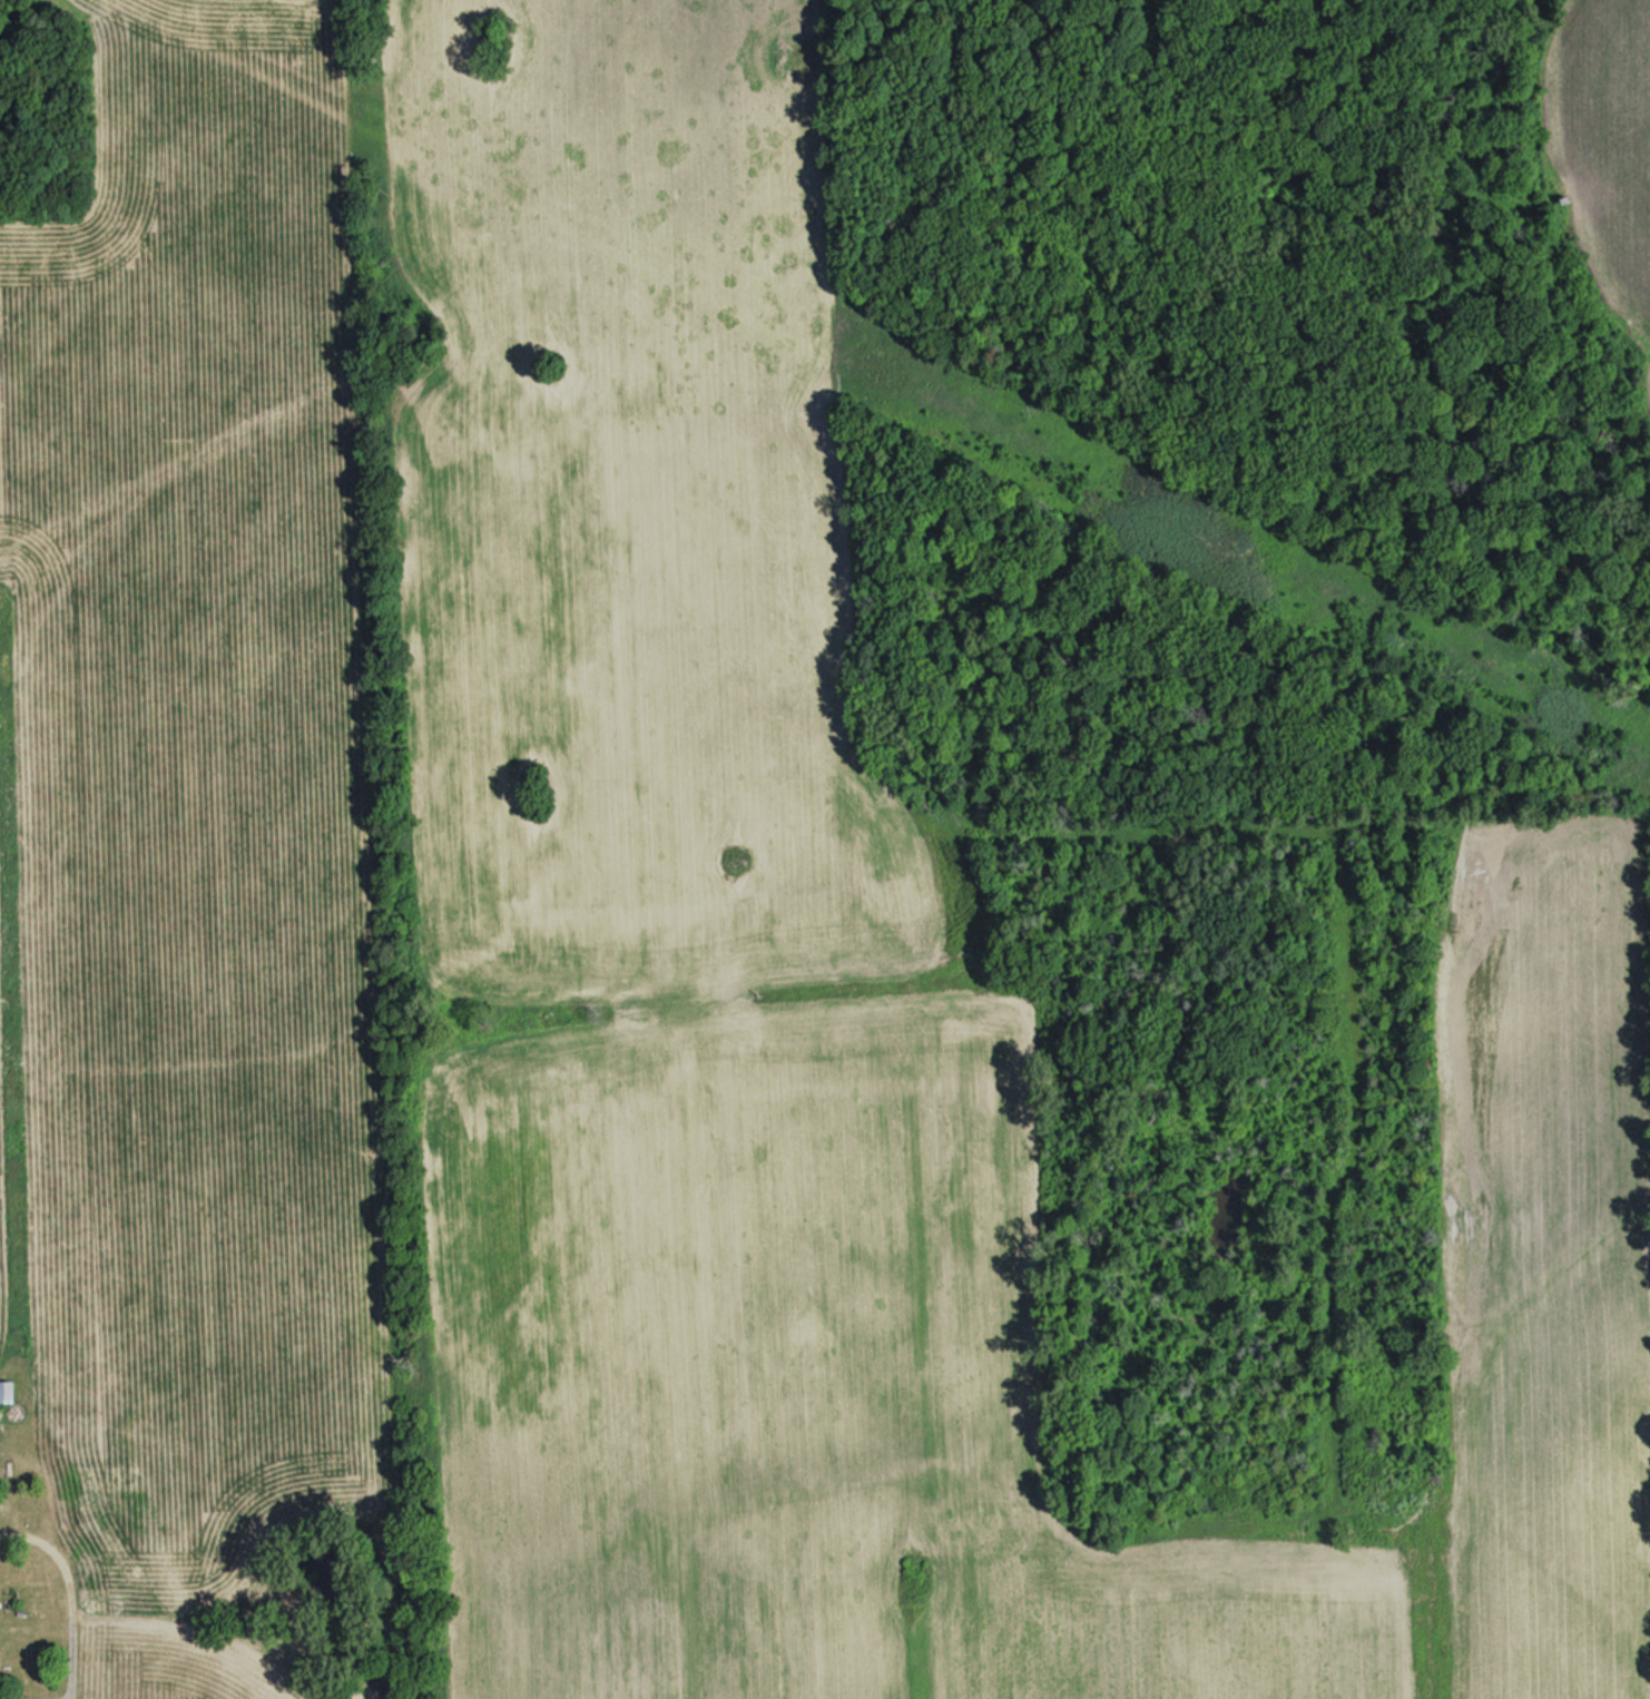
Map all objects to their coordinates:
building: (7, 1389)
road: (36, 1693)

